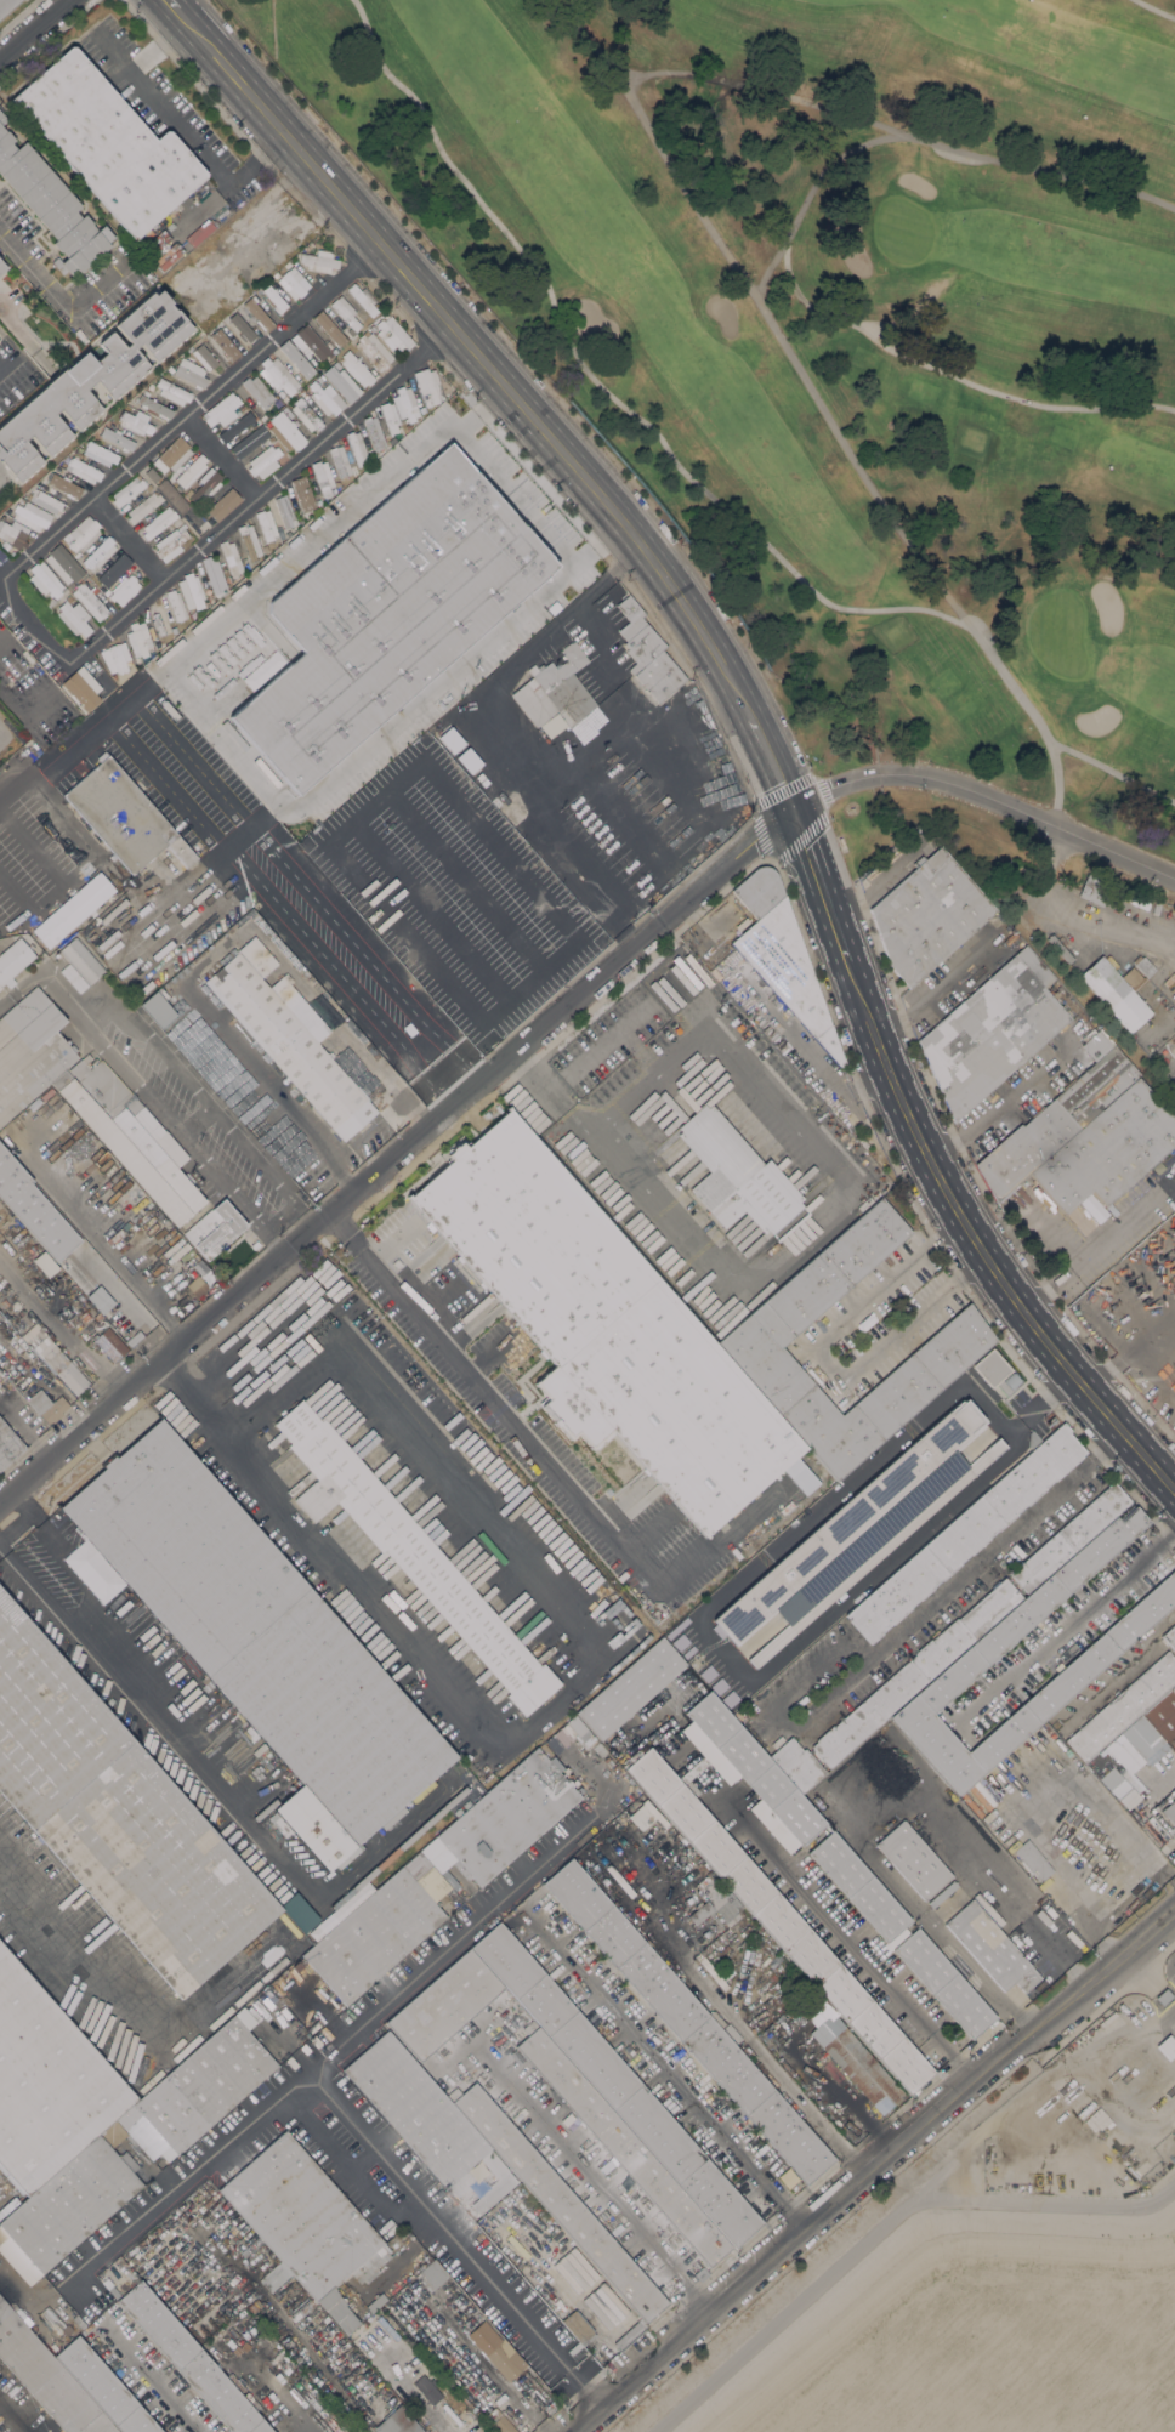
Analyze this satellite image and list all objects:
building: (6, 5)
road: (1156, 8)
road: (34, 29)
road: (178, 127)
road: (896, 131)
building: (108, 142)
road: (808, 193)
building: (51, 204)
road: (255, 228)
park: (902, 231)
building: (172, 244)
building: (308, 246)
building: (319, 261)
building: (1, 266)
building: (263, 267)
building: (293, 283)
road: (55, 296)
building: (363, 299)
building: (274, 300)
road: (760, 308)
building: (346, 312)
building: (257, 313)
building: (368, 326)
building: (329, 328)
building: (242, 329)
building: (393, 335)
building: (0, 337)
road: (23, 340)
building: (311, 343)
building: (225, 345)
park: (846, 346)
road: (476, 350)
building: (374, 351)
building: (204, 357)
building: (296, 359)
road: (10, 362)
building: (356, 369)
building: (191, 375)
building: (277, 376)
road: (953, 376)
building: (317, 377)
building: (89, 382)
road: (597, 382)
building: (340, 385)
building: (428, 386)
park: (925, 390)
building: (257, 391)
building: (172, 392)
building: (283, 397)
road: (208, 398)
building: (322, 399)
building: (153, 403)
building: (408, 403)
building: (284, 407)
road: (482, 407)
building: (222, 410)
building: (306, 414)
building: (390, 415)
building: (136, 420)
building: (234, 427)
building: (404, 427)
building: (285, 431)
building: (373, 432)
building: (118, 438)
park: (1069, 438)
building: (250, 442)
building: (357, 447)
building: (100, 453)
building: (172, 454)
road: (220, 460)
building: (265, 460)
building: (340, 460)
building: (83, 470)
building: (192, 471)
building: (152, 475)
building: (323, 476)
building: (40, 483)
building: (64, 484)
building: (205, 484)
building: (127, 490)
building: (302, 493)
road: (517, 494)
building: (172, 495)
building: (46, 501)
building: (222, 502)
building: (143, 505)
building: (285, 511)
building: (32, 515)
building: (158, 522)
building: (19, 524)
building: (266, 524)
road: (225, 527)
building: (83, 533)
building: (12, 534)
building: (250, 541)
building: (170, 542)
road: (311, 542)
road: (598, 542)
building: (98, 552)
building: (76, 553)
building: (231, 557)
building: (63, 564)
building: (246, 566)
road: (16, 567)
building: (113, 569)
building: (214, 573)
building: (45, 579)
building: (124, 589)
building: (194, 589)
building: (104, 590)
building: (70, 598)
road: (585, 598)
building: (50, 601)
building: (90, 601)
building: (177, 604)
building: (380, 608)
building: (74, 618)
building: (159, 621)
park: (1057, 633)
building: (140, 640)
building: (115, 657)
building: (452, 659)
building: (225, 671)
building: (657, 675)
park: (954, 682)
road: (433, 687)
building: (81, 688)
building: (479, 688)
road: (138, 694)
road: (13, 710)
road: (1032, 715)
park: (992, 729)
building: (371, 731)
road: (226, 738)
building: (556, 744)
building: (535, 763)
road: (773, 765)
road: (1112, 771)
road: (56, 773)
building: (380, 778)
building: (490, 784)
road: (214, 786)
building: (368, 796)
road: (984, 796)
road: (177, 800)
building: (1073, 802)
traffic signals: (793, 814)
building: (124, 816)
road: (235, 840)
road: (32, 848)
road: (90, 848)
road: (465, 881)
road: (282, 887)
building: (655, 888)
road: (819, 888)
building: (759, 891)
building: (1094, 892)
road: (15, 894)
road: (49, 897)
building: (1139, 902)
building: (73, 909)
road: (431, 913)
building: (926, 914)
building: (547, 915)
building: (1060, 948)
road: (564, 951)
road: (125, 953)
building: (13, 959)
building: (81, 960)
building: (787, 970)
road: (336, 973)
road: (385, 979)
road: (47, 982)
road: (936, 988)
building: (1119, 989)
building: (158, 1007)
building: (992, 1030)
road: (607, 1035)
building: (289, 1046)
road: (155, 1051)
building: (32, 1052)
road: (437, 1090)
road: (554, 1090)
road: (987, 1116)
building: (1057, 1118)
road: (195, 1123)
building: (132, 1138)
building: (1108, 1149)
road: (393, 1154)
building: (87, 1161)
building: (736, 1174)
road: (232, 1193)
road: (844, 1200)
building: (33, 1208)
road: (336, 1226)
building: (215, 1228)
road: (1052, 1229)
road: (977, 1245)
road: (1089, 1250)
building: (45, 1263)
road: (131, 1278)
building: (100, 1299)
building: (774, 1320)
building: (606, 1323)
building: (134, 1337)
road: (260, 1337)
building: (109, 1343)
road: (1133, 1345)
road: (79, 1348)
building: (53, 1358)
road: (825, 1359)
building: (995, 1371)
road: (1153, 1371)
road: (175, 1381)
building: (40, 1399)
road: (198, 1408)
building: (7, 1444)
road: (550, 1464)
building: (995, 1506)
building: (858, 1530)
building: (409, 1552)
building: (887, 1602)
road: (1068, 1625)
road: (898, 1630)
building: (1169, 1637)
building: (259, 1642)
building: (1004, 1647)
road: (734, 1663)
road: (585, 1672)
building: (630, 1689)
building: (1123, 1707)
building: (1162, 1716)
road: (159, 1722)
building: (1142, 1731)
building: (571, 1735)
building: (1094, 1760)
building: (796, 1763)
building: (750, 1772)
building: (1118, 1788)
building: (1170, 1811)
building: (117, 1817)
building: (1159, 1834)
building: (912, 1859)
building: (1033, 1859)
building: (416, 1877)
building: (858, 1886)
building: (713, 1891)
road: (1113, 1893)
road: (908, 1899)
building: (699, 1913)
building: (779, 1920)
road: (836, 1930)
road: (442, 1945)
building: (989, 1948)
road: (1057, 1953)
building: (943, 1983)
building: (1163, 1996)
road: (125, 2000)
building: (444, 2004)
building: (811, 2010)
building: (687, 2021)
building: (731, 2033)
road: (749, 2039)
road: (1113, 2044)
building: (1165, 2046)
road: (669, 2067)
building: (862, 2069)
building: (46, 2084)
building: (617, 2085)
road: (838, 2085)
building: (425, 2119)
road: (350, 2130)
road: (975, 2136)
building: (621, 2144)
building: (163, 2147)
road: (873, 2166)
road: (587, 2178)
building: (556, 2199)
road: (880, 2222)
building: (306, 2223)
building: (414, 2265)
building: (424, 2267)
building: (700, 2273)
building: (431, 2277)
building: (277, 2279)
building: (600, 2286)
building: (375, 2302)
building: (577, 2325)
building: (629, 2334)
building: (498, 2353)
building: (191, 2360)
building: (46, 2377)
building: (104, 2387)
building: (427, 2387)
road: (165, 2396)
road: (280, 2396)
road: (11, 2419)
building: (398, 2421)
building: (465, 2421)
building: (499, 2421)
building: (486, 2431)

